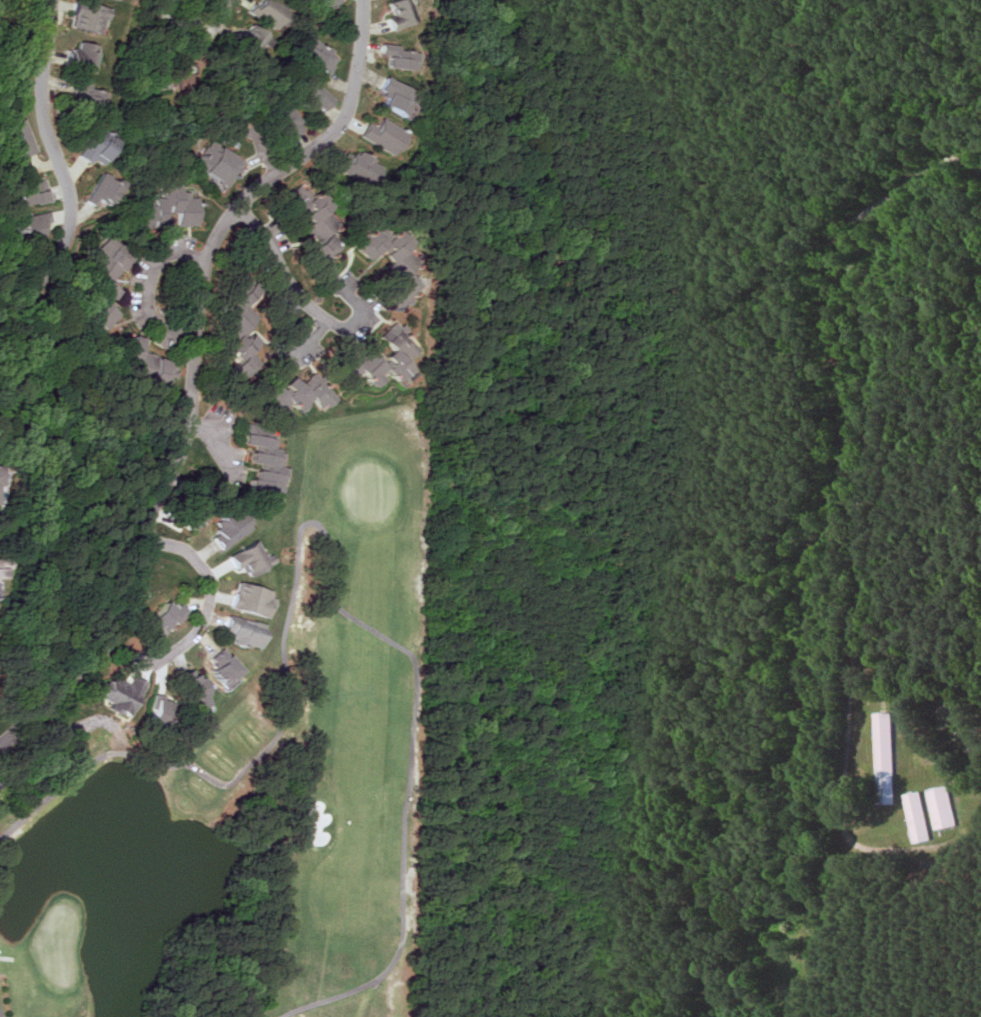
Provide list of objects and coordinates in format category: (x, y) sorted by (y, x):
building: (334, 3)
road: (221, 11)
building: (270, 13)
building: (401, 14)
building: (94, 17)
building: (256, 36)
building: (323, 55)
building: (84, 57)
building: (398, 57)
road: (44, 71)
building: (91, 96)
building: (395, 96)
building: (324, 98)
building: (294, 120)
building: (386, 136)
building: (21, 138)
building: (103, 148)
road: (265, 154)
building: (220, 163)
building: (360, 166)
building: (108, 190)
building: (38, 194)
building: (178, 208)
building: (35, 226)
building: (312, 226)
road: (64, 238)
road: (282, 260)
building: (114, 265)
road: (148, 288)
building: (398, 289)
building: (109, 316)
road: (358, 316)
building: (229, 343)
building: (372, 362)
building: (144, 367)
road: (191, 371)
building: (292, 394)
road: (206, 439)
building: (255, 466)
building: (0, 473)
building: (178, 516)
building: (225, 527)
road: (856, 542)
building: (242, 557)
building: (2, 567)
road: (212, 588)
building: (246, 599)
building: (156, 617)
building: (240, 630)
building: (217, 668)
building: (187, 688)
building: (115, 694)
building: (883, 756)
park: (256, 791)
building: (940, 807)
building: (915, 817)

